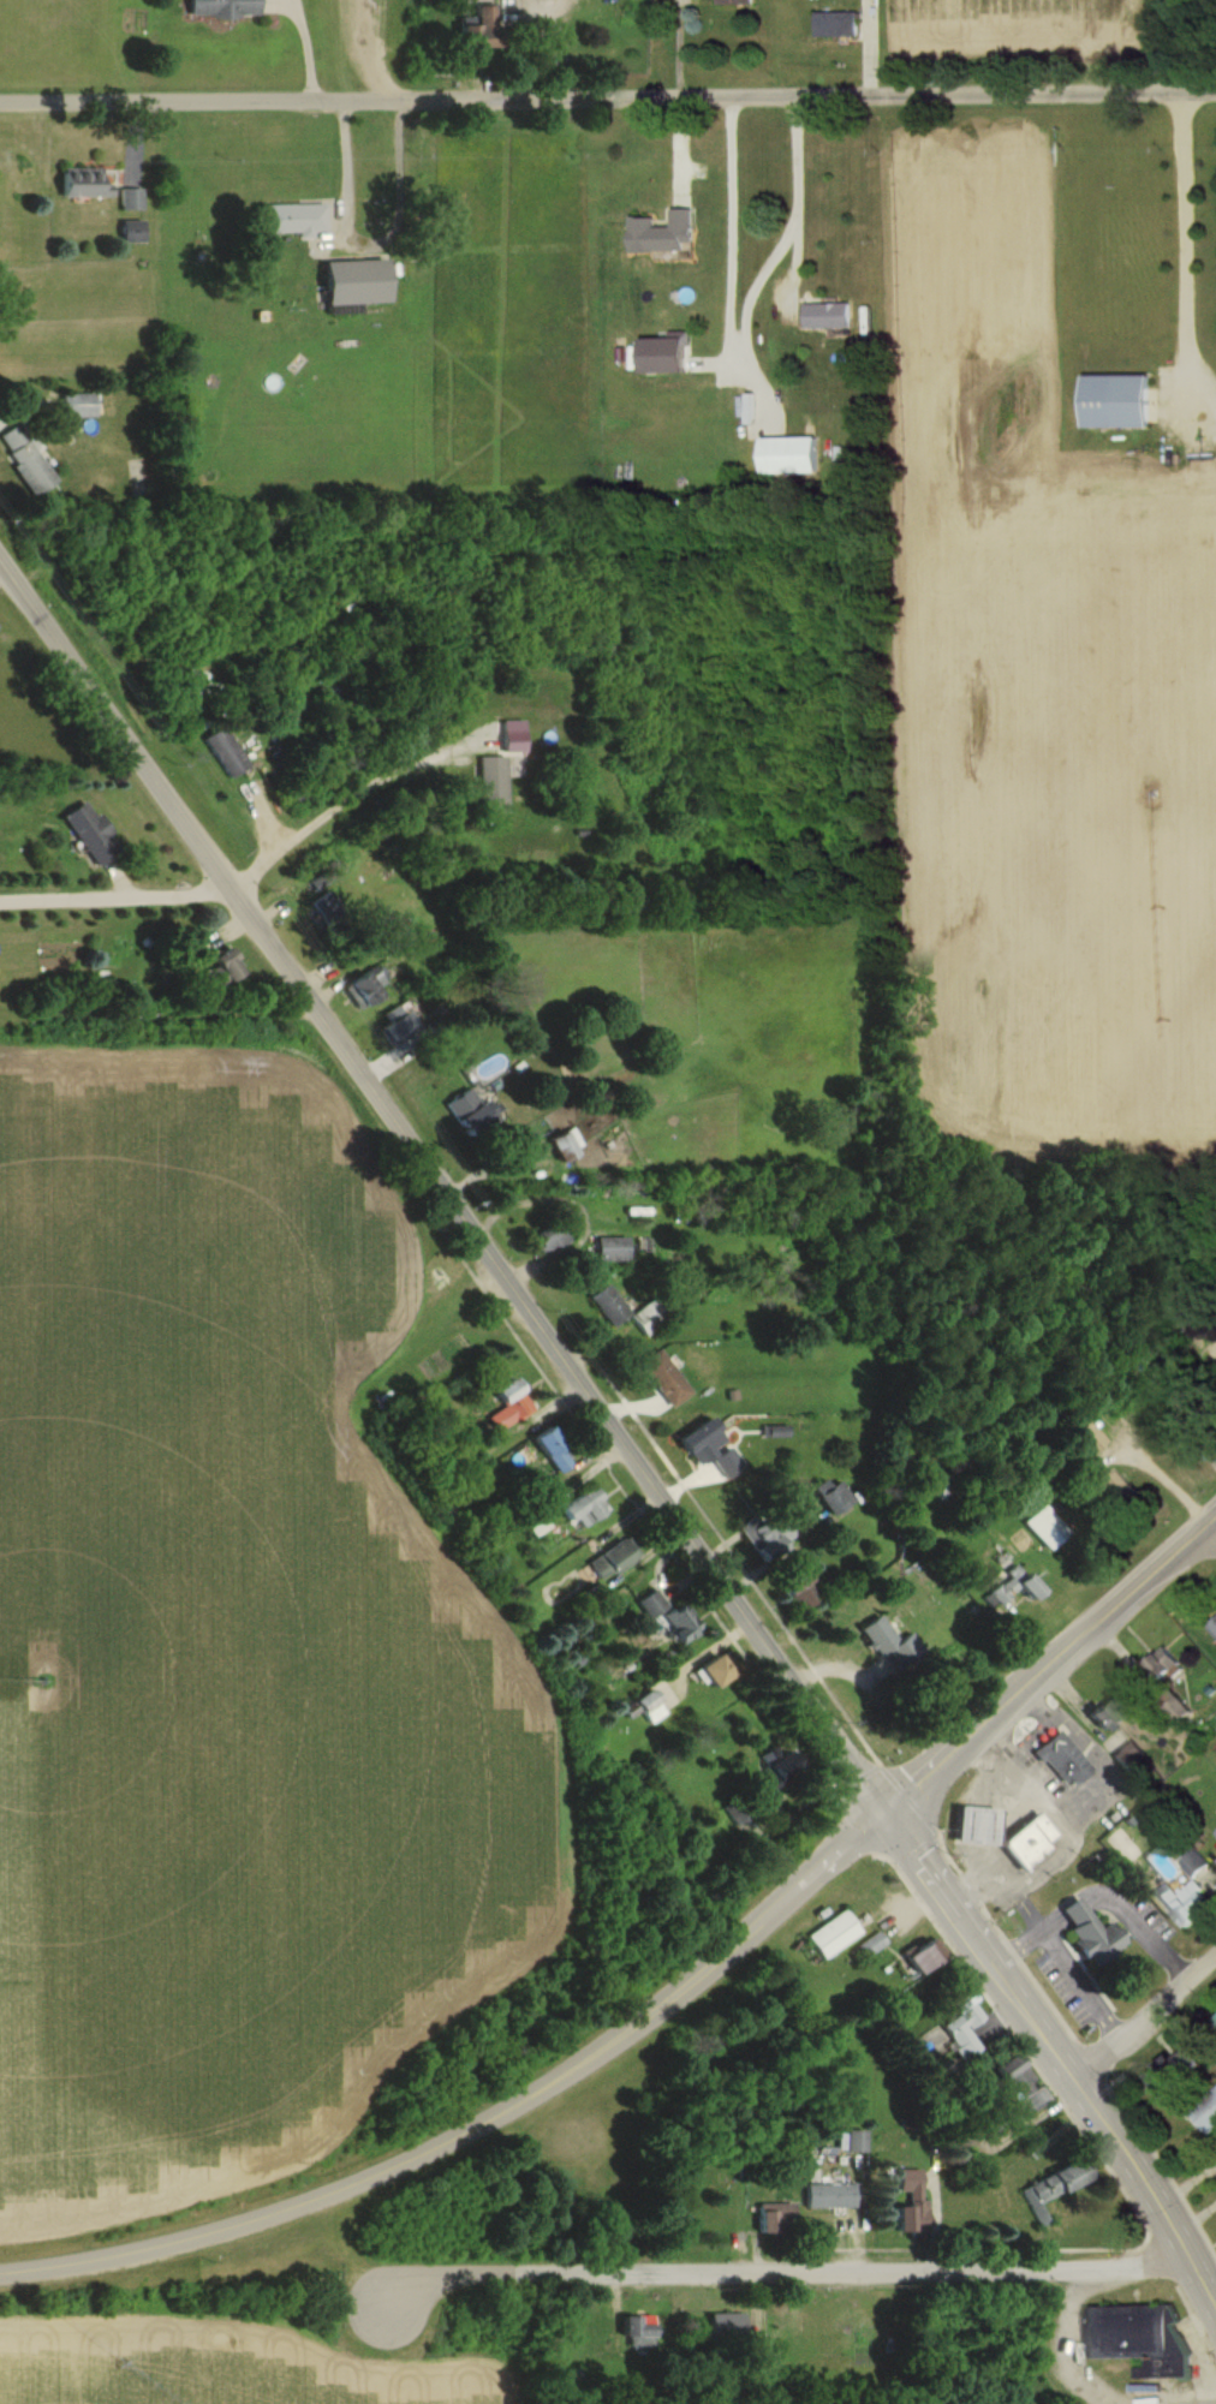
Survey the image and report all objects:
building: (735, 1)
building: (225, 7)
building: (638, 11)
crop: (1030, 19)
building: (836, 25)
building: (482, 28)
road: (607, 100)
building: (84, 183)
road: (793, 196)
building: (131, 199)
building: (294, 220)
building: (133, 232)
building: (661, 233)
road: (370, 240)
road: (1187, 262)
building: (358, 282)
building: (828, 316)
building: (1122, 402)
building: (79, 406)
building: (793, 455)
building: (26, 460)
building: (142, 488)
building: (226, 752)
building: (493, 786)
road: (326, 813)
building: (93, 835)
road: (196, 845)
road: (111, 894)
building: (328, 908)
building: (225, 971)
building: (364, 992)
building: (398, 1026)
building: (471, 1115)
building: (564, 1146)
building: (550, 1239)
building: (613, 1251)
building: (609, 1308)
building: (664, 1380)
building: (1089, 1442)
building: (713, 1450)
building: (555, 1454)
road: (646, 1471)
building: (1113, 1489)
building: (836, 1502)
building: (584, 1510)
building: (1047, 1528)
building: (763, 1540)
building: (614, 1561)
building: (1013, 1588)
building: (801, 1591)
building: (651, 1606)
building: (1211, 1624)
building: (681, 1625)
building: (888, 1646)
building: (1163, 1666)
building: (716, 1674)
road: (1060, 1675)
building: (1108, 1714)
road: (1029, 1735)
building: (1065, 1761)
building: (781, 1771)
road: (1002, 1806)
building: (735, 1814)
traffic signals: (901, 1818)
building: (985, 1823)
building: (1215, 1838)
building: (1038, 1842)
road: (999, 1880)
building: (1194, 1892)
road: (1117, 1908)
building: (835, 1933)
building: (1092, 1933)
building: (874, 1941)
road: (1013, 1941)
building: (926, 1956)
road: (1075, 1982)
road: (1143, 2015)
building: (964, 2024)
road: (1061, 2062)
building: (1185, 2072)
building: (1019, 2087)
building: (1203, 2113)
road: (491, 2130)
building: (1054, 2189)
building: (830, 2196)
building: (911, 2202)
building: (776, 2219)
road: (797, 2273)
building: (727, 2330)
building: (639, 2331)
building: (1139, 2339)
road: (1063, 2345)
crop: (216, 2366)
road: (1203, 2392)
road: (1178, 2394)

